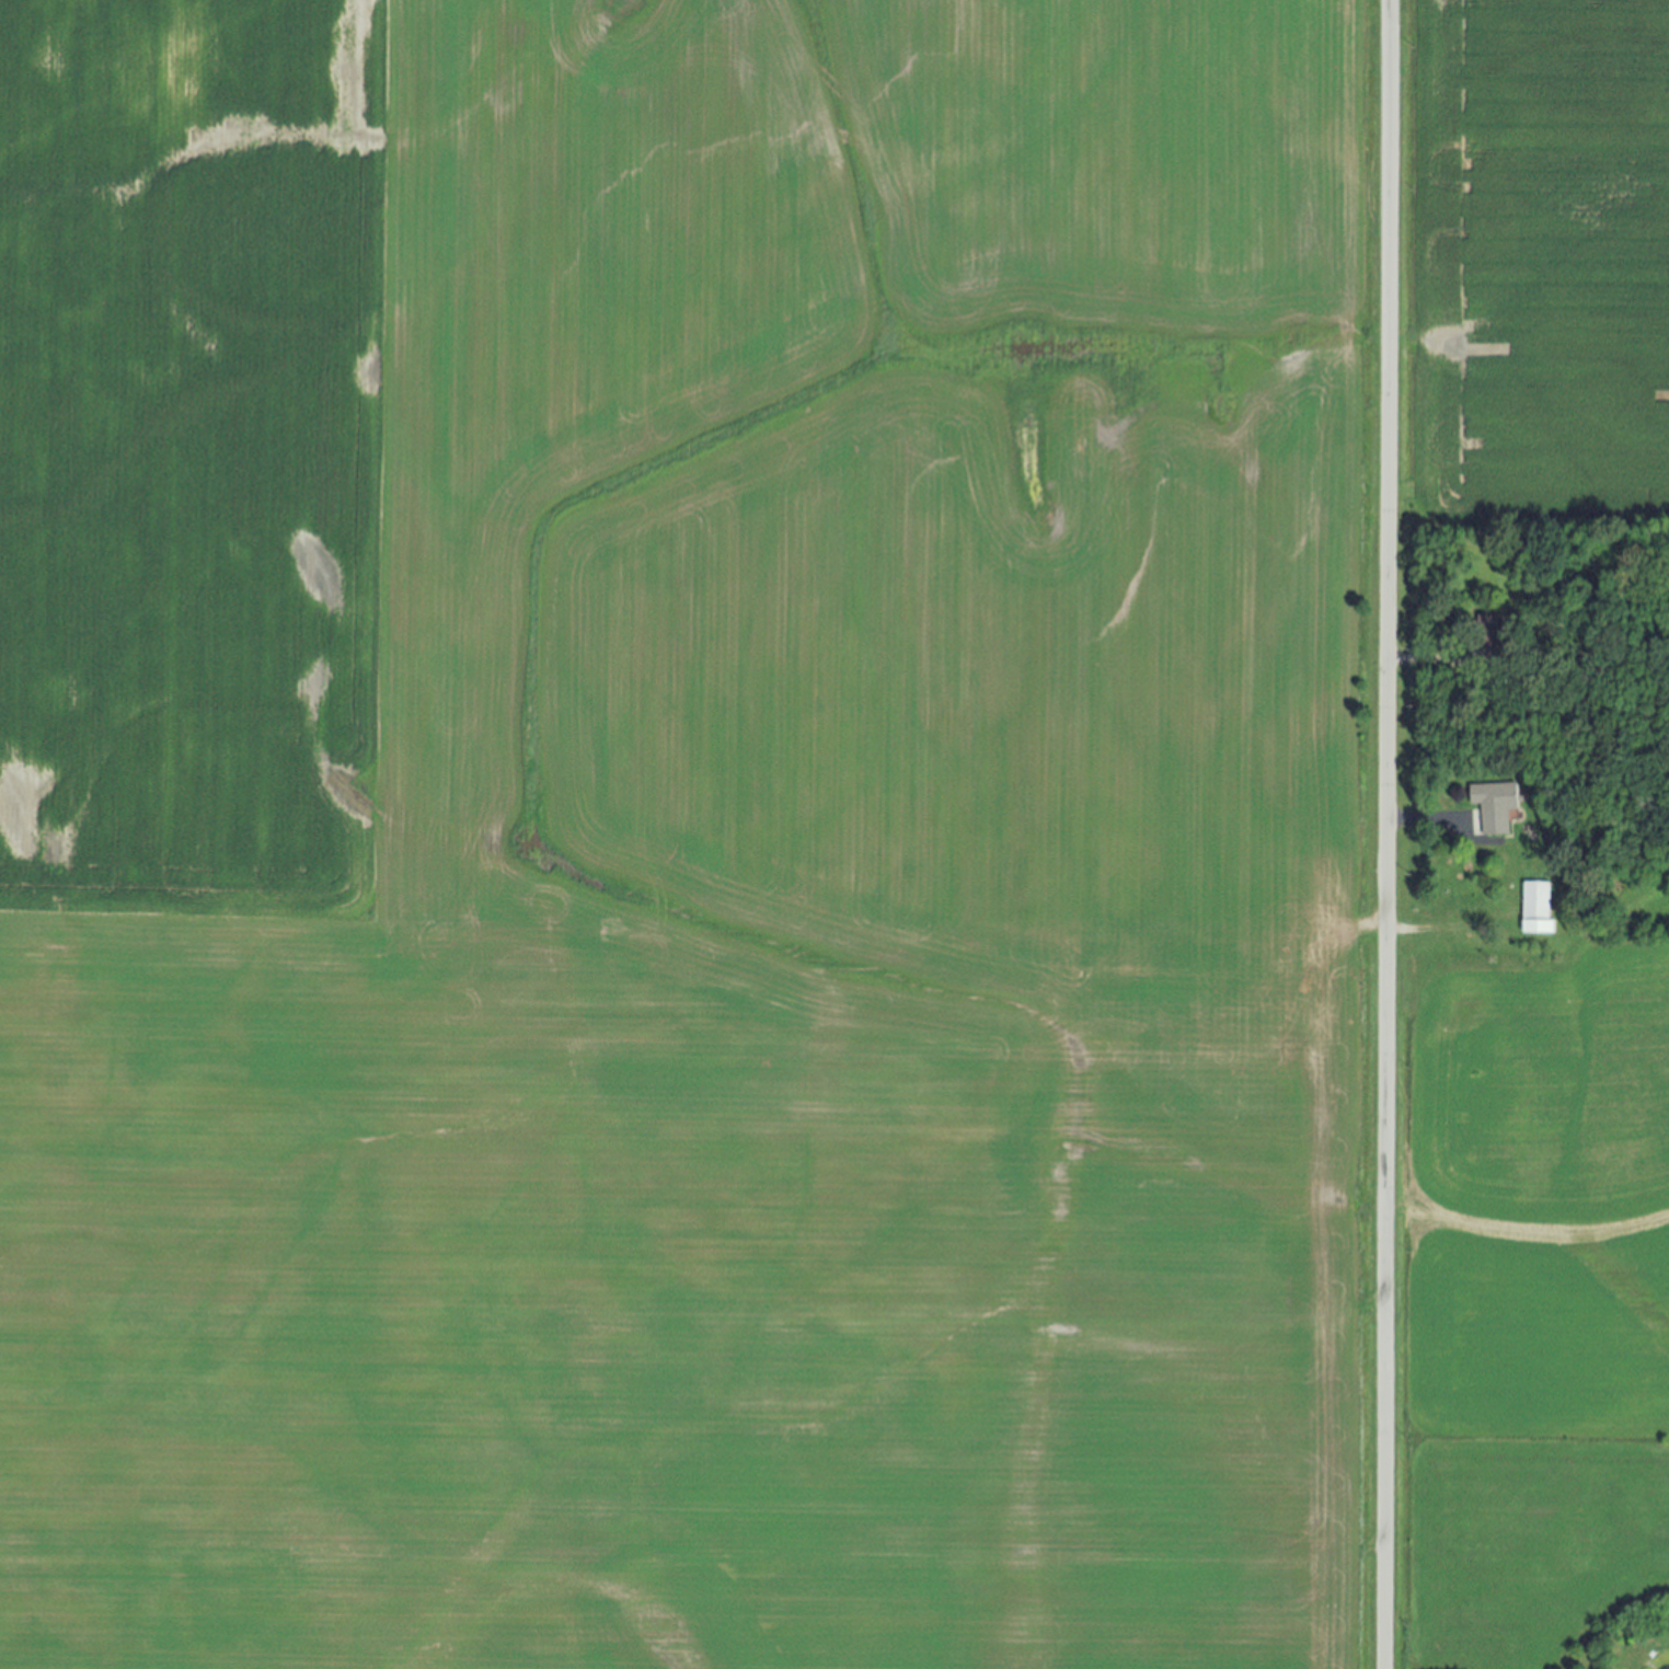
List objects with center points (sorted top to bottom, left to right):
building: (1503, 649)
road: (1416, 659)
building: (1494, 807)
road: (1421, 819)
road: (1389, 833)
building: (1535, 909)
road: (1435, 929)

